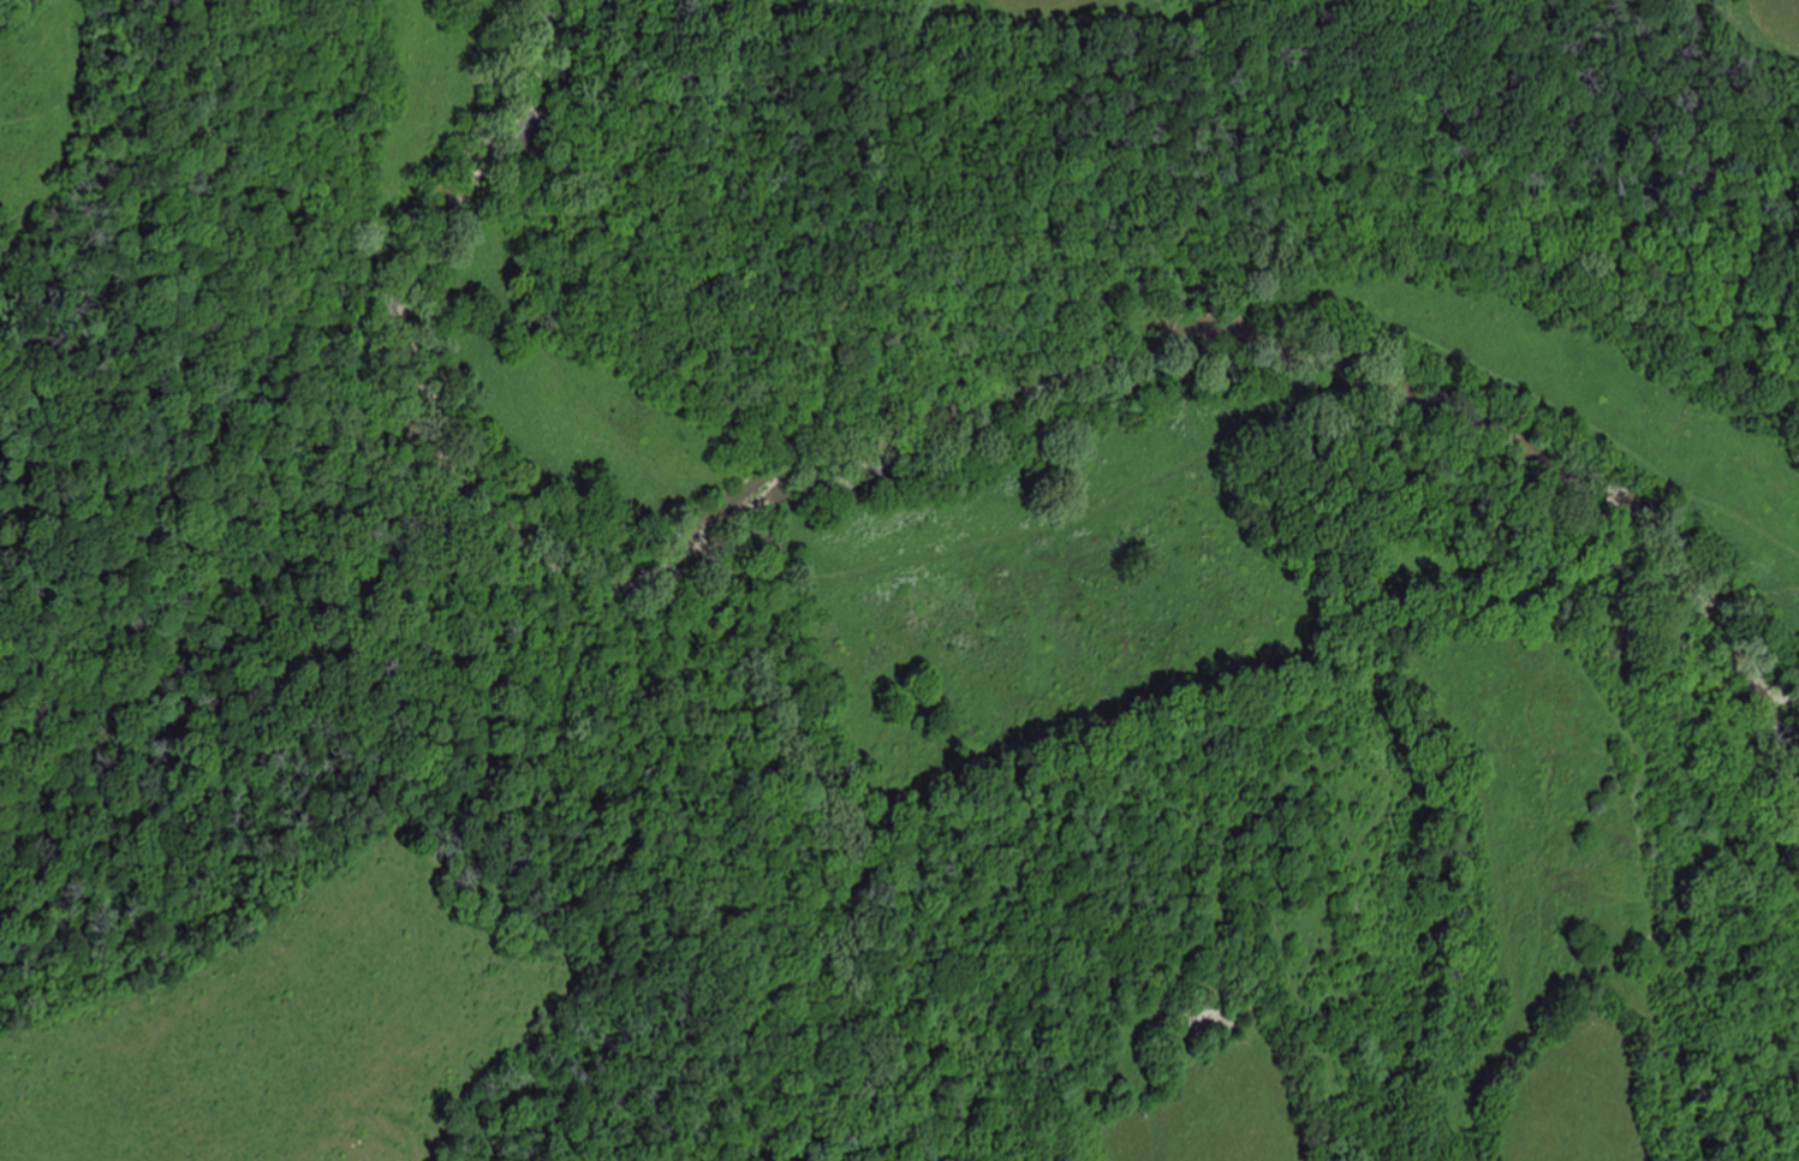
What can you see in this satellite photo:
building: (1217, 1019)

